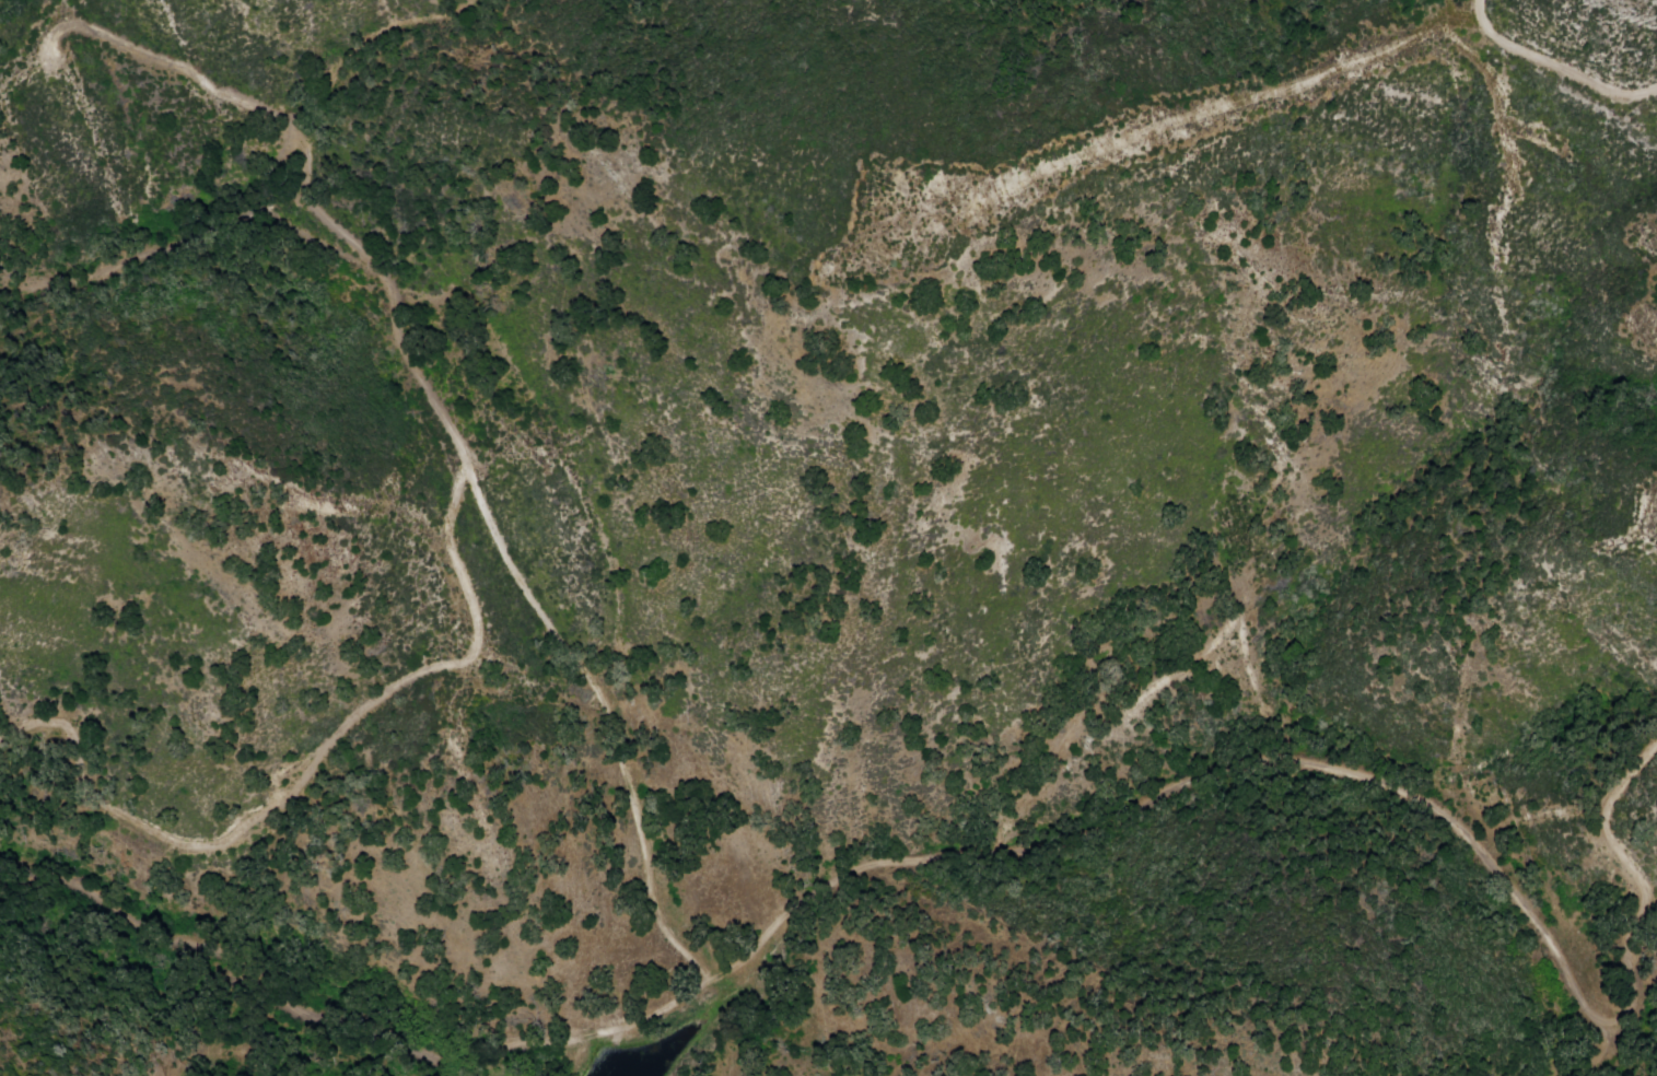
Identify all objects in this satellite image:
road: (1550, 60)

